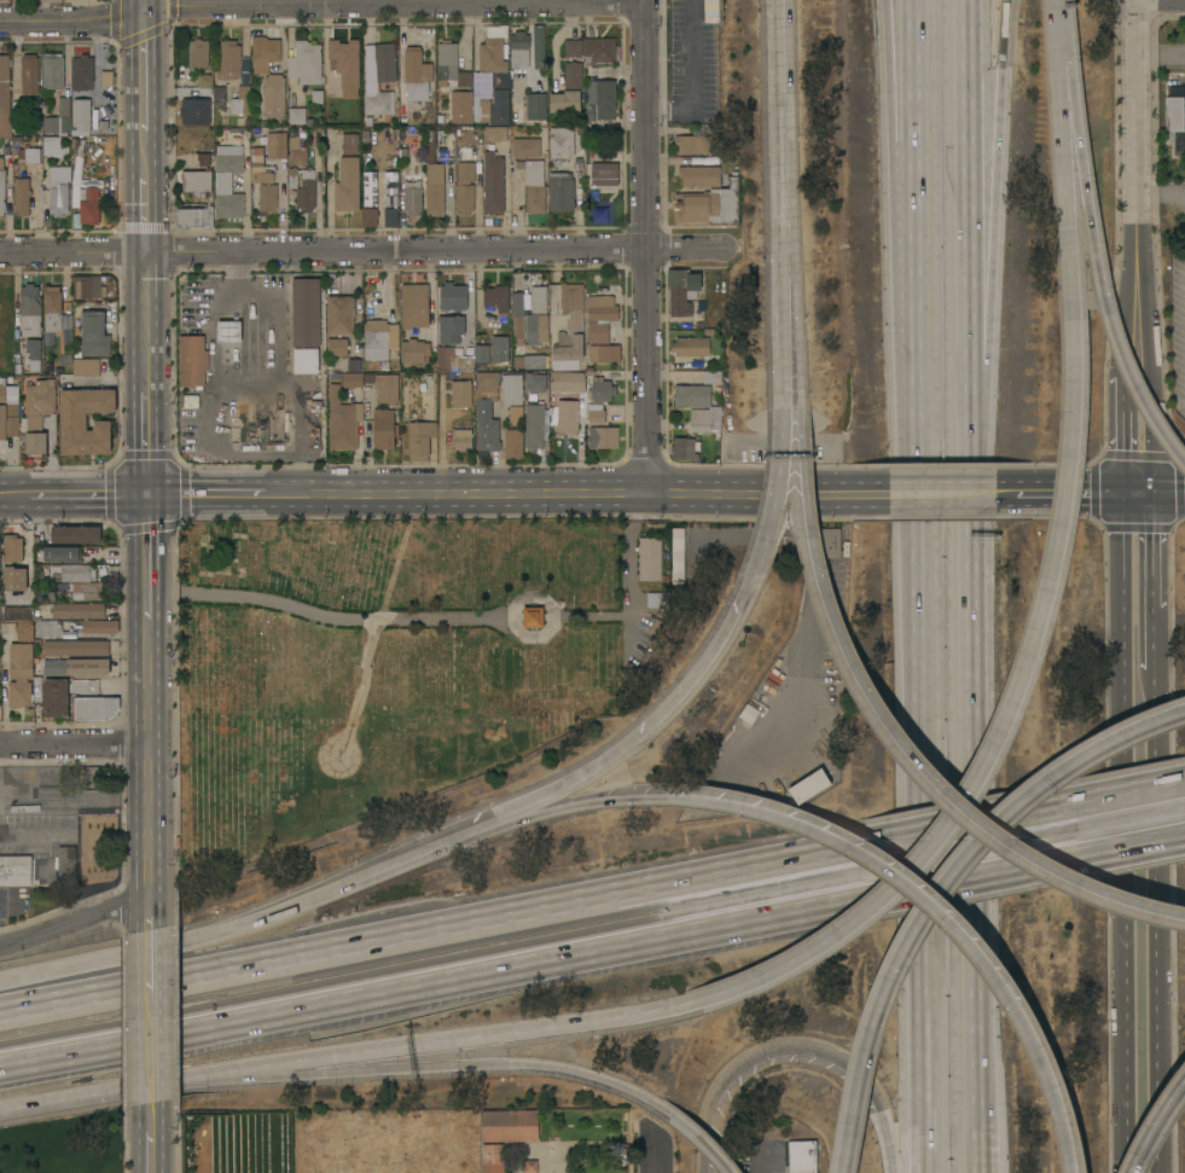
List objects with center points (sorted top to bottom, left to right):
road: (1161, 0)
road: (144, 4)
road: (394, 5)
road: (72, 22)
road: (966, 39)
building: (538, 46)
building: (573, 47)
building: (519, 48)
building: (599, 50)
building: (198, 52)
building: (265, 52)
road: (1161, 53)
building: (228, 60)
building: (344, 60)
building: (306, 62)
building: (495, 62)
building: (449, 65)
building: (53, 70)
road: (144, 70)
building: (82, 72)
building: (30, 74)
building: (417, 74)
road: (693, 74)
building: (106, 79)
building: (202, 80)
building: (378, 80)
building: (569, 89)
building: (220, 95)
building: (274, 95)
building: (315, 95)
building: (5, 97)
building: (603, 97)
building: (240, 100)
building: (536, 105)
building: (460, 106)
building: (492, 109)
building: (196, 111)
building: (82, 114)
building: (517, 114)
building: (296, 115)
building: (1173, 115)
building: (59, 118)
road: (1137, 122)
building: (495, 133)
building: (559, 141)
building: (693, 141)
building: (350, 143)
building: (275, 144)
building: (430, 145)
building: (530, 145)
building: (52, 146)
building: (297, 151)
building: (30, 155)
road: (144, 156)
building: (199, 158)
building: (702, 161)
building: (260, 167)
road: (1068, 170)
building: (604, 173)
building: (699, 175)
road: (786, 178)
building: (228, 180)
building: (197, 181)
building: (493, 182)
building: (348, 185)
building: (533, 186)
building: (2, 187)
building: (465, 187)
building: (303, 188)
building: (370, 188)
building: (390, 188)
building: (435, 188)
building: (58, 190)
road: (1161, 190)
building: (412, 191)
building: (560, 191)
road: (901, 192)
road: (316, 194)
building: (22, 196)
building: (268, 198)
building: (708, 204)
building: (89, 207)
road: (145, 216)
building: (194, 216)
building: (370, 216)
building: (391, 216)
road: (987, 233)
road: (1096, 239)
road: (646, 246)
road: (366, 252)
road: (969, 273)
road: (145, 285)
building: (88, 286)
road: (1137, 290)
building: (680, 291)
building: (453, 296)
building: (496, 297)
road: (469, 298)
building: (538, 300)
building: (414, 304)
building: (4, 306)
building: (52, 308)
building: (30, 309)
building: (306, 312)
building: (341, 315)
building: (600, 317)
building: (517, 318)
building: (575, 325)
building: (536, 327)
building: (449, 329)
building: (230, 331)
building: (94, 335)
building: (376, 338)
building: (692, 345)
road: (145, 347)
building: (337, 347)
building: (500, 348)
building: (414, 352)
building: (33, 353)
building: (482, 353)
building: (605, 353)
road: (1142, 356)
road: (1127, 358)
building: (453, 359)
building: (192, 360)
building: (306, 360)
building: (535, 361)
building: (517, 362)
building: (353, 365)
building: (86, 366)
road: (913, 366)
building: (589, 372)
building: (711, 377)
building: (349, 378)
building: (535, 382)
building: (487, 385)
building: (388, 387)
building: (512, 389)
building: (602, 389)
building: (461, 393)
road: (1120, 396)
building: (571, 401)
road: (785, 408)
road: (801, 408)
building: (37, 413)
building: (515, 414)
building: (8, 416)
building: (343, 419)
building: (86, 420)
building: (704, 420)
building: (534, 425)
building: (384, 428)
building: (487, 434)
road: (146, 436)
building: (603, 437)
road: (1149, 437)
building: (420, 439)
building: (463, 439)
building: (513, 443)
building: (684, 448)
road: (1120, 453)
building: (481, 454)
road: (577, 493)
road: (955, 494)
road: (1069, 494)
road: (88, 495)
traffic signals: (147, 495)
road: (205, 495)
traffic signals: (1121, 495)
road: (1135, 495)
traffic signals: (1150, 495)
road: (1167, 495)
road: (14, 497)
road: (773, 527)
building: (76, 534)
building: (830, 542)
building: (12, 547)
road: (1150, 552)
building: (63, 553)
road: (147, 554)
building: (679, 554)
building: (650, 558)
building: (13, 577)
building: (77, 580)
road: (629, 592)
building: (658, 598)
road: (974, 600)
building: (76, 610)
building: (17, 612)
road: (329, 615)
road: (512, 615)
building: (531, 616)
building: (100, 626)
building: (7, 628)
building: (46, 628)
building: (24, 631)
building: (69, 634)
road: (1152, 638)
building: (76, 648)
park: (381, 664)
building: (77, 667)
building: (19, 674)
building: (85, 686)
building: (36, 690)
building: (56, 697)
building: (94, 708)
building: (27, 712)
building: (16, 713)
building: (749, 713)
road: (999, 738)
road: (1155, 745)
road: (74, 747)
road: (149, 754)
road: (914, 759)
road: (604, 762)
road: (94, 768)
building: (808, 786)
road: (77, 791)
road: (1133, 792)
road: (1044, 809)
road: (524, 818)
road: (948, 828)
road: (1120, 834)
building: (93, 846)
road: (1133, 846)
road: (1045, 863)
building: (66, 864)
building: (16, 870)
road: (959, 871)
road: (907, 882)
road: (936, 883)
road: (150, 910)
road: (446, 922)
road: (75, 923)
road: (202, 939)
road: (983, 952)
road: (916, 953)
road: (150, 958)
road: (432, 977)
road: (1155, 997)
road: (151, 1015)
road: (394, 1050)
road: (790, 1050)
road: (350, 1075)
road: (151, 1085)
road: (42, 1102)
road: (679, 1120)
building: (510, 1125)
road: (1157, 1127)
road: (1068, 1136)
park: (330, 1140)
road: (848, 1149)
road: (150, 1151)
road: (656, 1151)
building: (801, 1156)
building: (493, 1157)
building: (530, 1166)

